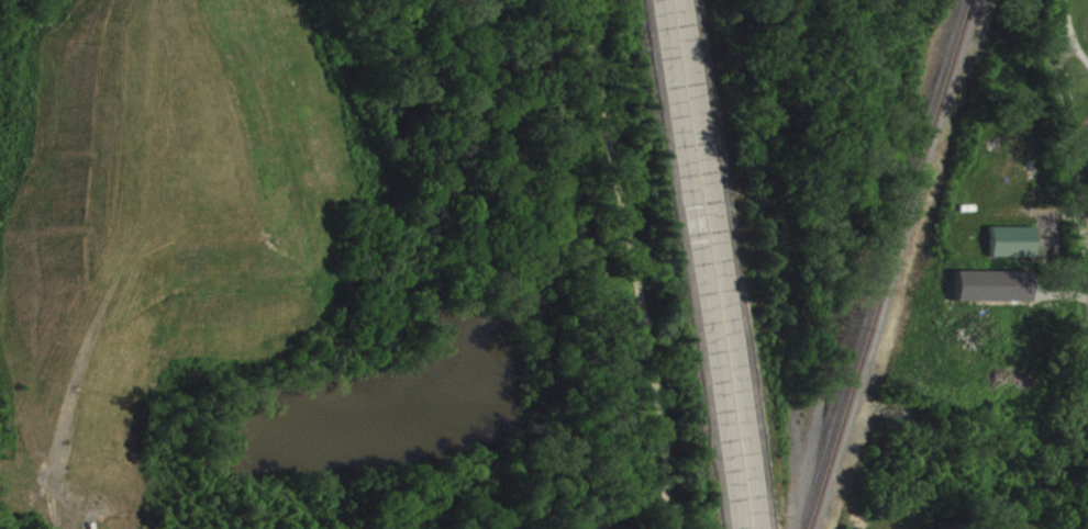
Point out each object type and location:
park: (1073, 72)
building: (1009, 250)
road: (634, 263)
road: (701, 264)
railway: (890, 264)

